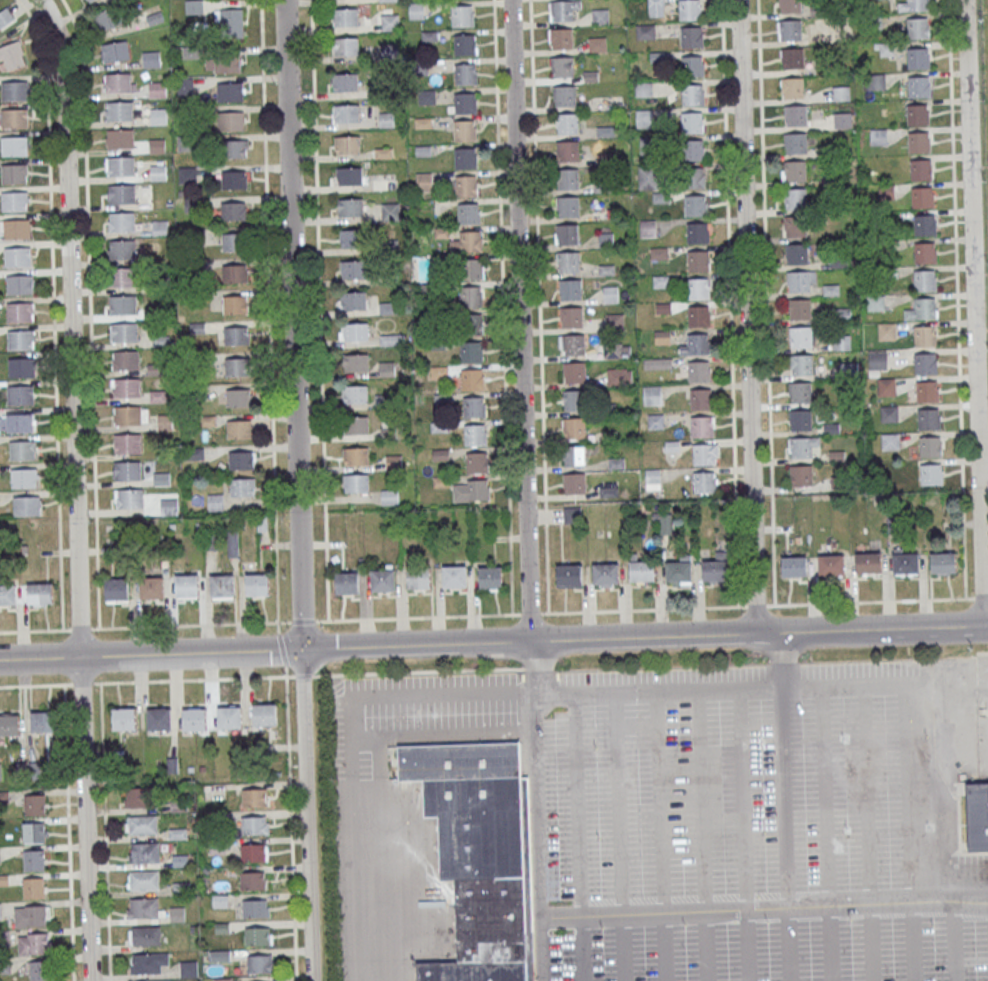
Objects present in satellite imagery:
building: (388, 0)
building: (90, 1)
building: (917, 5)
building: (193, 6)
building: (791, 6)
building: (655, 8)
building: (690, 9)
building: (416, 10)
building: (561, 10)
building: (463, 16)
building: (5, 17)
building: (345, 17)
building: (600, 17)
building: (105, 20)
building: (389, 22)
building: (229, 23)
building: (918, 28)
building: (791, 29)
building: (645, 32)
building: (691, 37)
building: (561, 38)
building: (464, 44)
building: (597, 44)
building: (346, 46)
building: (885, 49)
building: (389, 50)
building: (115, 51)
building: (12, 56)
building: (918, 57)
building: (793, 58)
building: (151, 59)
building: (223, 63)
building: (693, 65)
building: (562, 66)
building: (466, 74)
building: (118, 82)
building: (344, 82)
building: (184, 86)
building: (919, 87)
building: (792, 88)
building: (157, 89)
building: (15, 91)
building: (230, 91)
building: (841, 93)
building: (693, 94)
building: (564, 95)
building: (465, 103)
building: (119, 111)
building: (346, 114)
building: (918, 114)
building: (794, 115)
building: (158, 116)
building: (15, 118)
building: (230, 120)
building: (841, 120)
building: (691, 122)
building: (566, 123)
building: (464, 130)
building: (119, 139)
building: (918, 142)
building: (795, 143)
building: (347, 145)
building: (15, 146)
building: (156, 146)
building: (237, 148)
building: (692, 150)
building: (567, 151)
building: (466, 158)
building: (120, 166)
building: (921, 169)
building: (794, 170)
building: (158, 172)
building: (15, 174)
building: (350, 176)
building: (648, 177)
building: (694, 178)
building: (233, 179)
building: (567, 179)
building: (423, 181)
building: (466, 186)
building: (886, 191)
building: (122, 194)
building: (922, 197)
building: (795, 198)
building: (15, 201)
building: (695, 205)
building: (350, 207)
building: (567, 207)
building: (234, 210)
building: (389, 211)
building: (468, 214)
building: (120, 221)
building: (796, 225)
building: (925, 225)
building: (160, 227)
building: (647, 228)
building: (17, 229)
building: (697, 233)
building: (566, 234)
building: (353, 238)
building: (605, 239)
building: (470, 241)
building: (232, 242)
building: (122, 249)
building: (659, 253)
building: (925, 253)
building: (796, 254)
building: (17, 257)
building: (568, 261)
building: (699, 261)
building: (352, 269)
building: (471, 269)
building: (234, 273)
building: (122, 277)
building: (799, 280)
building: (925, 280)
building: (661, 281)
building: (20, 284)
building: (831, 287)
building: (697, 288)
building: (569, 289)
building: (610, 294)
building: (470, 296)
road: (957, 298)
building: (353, 300)
road: (730, 302)
road: (766, 302)
building: (875, 302)
building: (235, 303)
building: (123, 305)
road: (539, 306)
road: (502, 307)
building: (925, 308)
building: (799, 309)
road: (53, 310)
road: (319, 310)
road: (268, 311)
building: (20, 312)
road: (90, 312)
road: (973, 313)
building: (841, 315)
building: (699, 316)
road: (746, 316)
building: (571, 317)
road: (520, 320)
building: (614, 321)
road: (292, 324)
building: (471, 324)
building: (887, 331)
building: (124, 332)
building: (356, 332)
building: (236, 335)
building: (800, 336)
building: (925, 336)
building: (662, 337)
building: (391, 339)
building: (21, 340)
building: (841, 342)
building: (571, 344)
building: (698, 344)
building: (616, 350)
building: (471, 352)
building: (126, 360)
building: (877, 360)
building: (356, 363)
building: (657, 363)
building: (801, 364)
building: (926, 364)
building: (237, 365)
building: (21, 367)
building: (848, 369)
building: (698, 371)
building: (574, 372)
building: (619, 376)
building: (472, 379)
building: (886, 386)
building: (127, 387)
building: (927, 391)
building: (651, 392)
building: (800, 392)
building: (355, 393)
building: (20, 395)
building: (238, 397)
building: (701, 398)
building: (572, 400)
building: (474, 407)
building: (889, 413)
building: (127, 415)
building: (799, 419)
building: (929, 419)
building: (21, 422)
building: (356, 425)
building: (702, 426)
building: (573, 427)
building: (245, 428)
building: (474, 435)
building: (890, 441)
building: (127, 444)
building: (800, 447)
building: (931, 447)
building: (23, 450)
building: (704, 454)
building: (356, 455)
building: (574, 455)
building: (241, 459)
building: (476, 462)
building: (615, 463)
building: (127, 471)
building: (931, 474)
building: (801, 475)
building: (24, 478)
building: (653, 478)
building: (705, 482)
building: (357, 483)
building: (574, 483)
road: (74, 487)
building: (243, 487)
building: (470, 490)
building: (389, 497)
building: (128, 499)
building: (27, 506)
building: (572, 514)
building: (211, 541)
building: (232, 543)
building: (905, 560)
building: (869, 562)
building: (943, 563)
building: (831, 564)
building: (794, 566)
building: (715, 570)
building: (642, 571)
building: (678, 571)
building: (605, 573)
building: (568, 575)
building: (418, 576)
building: (454, 576)
building: (490, 577)
building: (382, 580)
building: (347, 583)
building: (257, 584)
building: (186, 585)
building: (221, 585)
building: (151, 587)
building: (117, 589)
building: (8, 593)
building: (40, 593)
road: (981, 597)
road: (870, 600)
road: (756, 604)
road: (373, 618)
road: (985, 626)
road: (881, 629)
road: (767, 632)
road: (642, 636)
road: (416, 644)
traffic signals: (301, 649)
road: (150, 655)
road: (781, 659)
road: (267, 677)
road: (862, 684)
road: (424, 696)
building: (264, 715)
building: (229, 716)
building: (194, 718)
building: (124, 719)
building: (158, 719)
building: (42, 721)
building: (10, 724)
road: (944, 735)
street lamp: (844, 739)
street lamp: (927, 740)
street lamp: (761, 743)
street lamp: (678, 744)
street lamp: (596, 746)
road: (538, 779)
building: (141, 797)
building: (254, 797)
building: (33, 804)
parking lot: (715, 812)
road: (305, 815)
building: (977, 815)
building: (142, 825)
building: (254, 825)
road: (291, 829)
street lamp: (764, 830)
street lamp: (848, 831)
road: (909, 831)
building: (34, 832)
road: (68, 832)
road: (105, 832)
road: (869, 832)
road: (825, 833)
street lamp: (682, 834)
road: (701, 834)
road: (743, 834)
road: (785, 834)
road: (578, 836)
road: (619, 836)
road: (660, 836)
street lamp: (598, 839)
road: (948, 845)
building: (144, 852)
building: (253, 852)
building: (0, 855)
building: (476, 857)
building: (34, 860)
building: (144, 880)
building: (252, 880)
building: (34, 888)
road: (978, 900)
road: (959, 901)
road: (978, 904)
building: (144, 908)
building: (256, 908)
road: (746, 909)
building: (0, 911)
building: (177, 914)
building: (30, 916)
street lamp: (850, 926)
street lamp: (932, 927)
street lamp: (768, 928)
street lamp: (684, 932)
building: (258, 935)
building: (144, 936)
street lamp: (602, 938)
road: (952, 941)
building: (34, 944)
road: (542, 950)
building: (146, 963)
building: (260, 963)
building: (188, 968)
building: (41, 971)
building: (150, 980)

